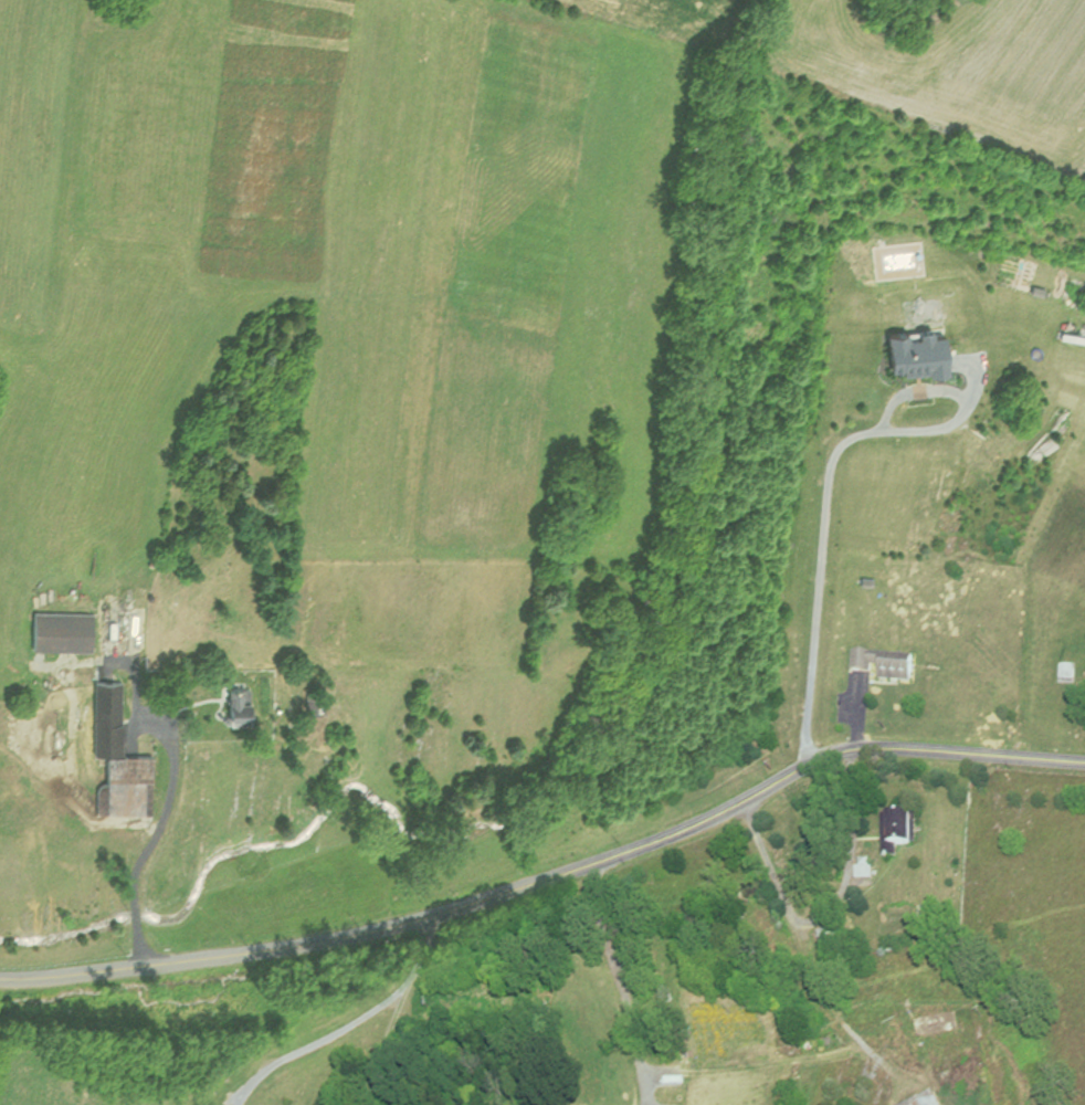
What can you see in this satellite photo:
building: (909, 351)
road: (916, 392)
road: (825, 508)
building: (55, 631)
building: (877, 665)
building: (228, 702)
building: (112, 756)
road: (157, 830)
building: (888, 831)
building: (857, 869)
road: (550, 877)
building: (823, 938)
road: (621, 982)
road: (399, 1008)
building: (930, 1023)
road: (320, 1043)
building: (917, 1101)

